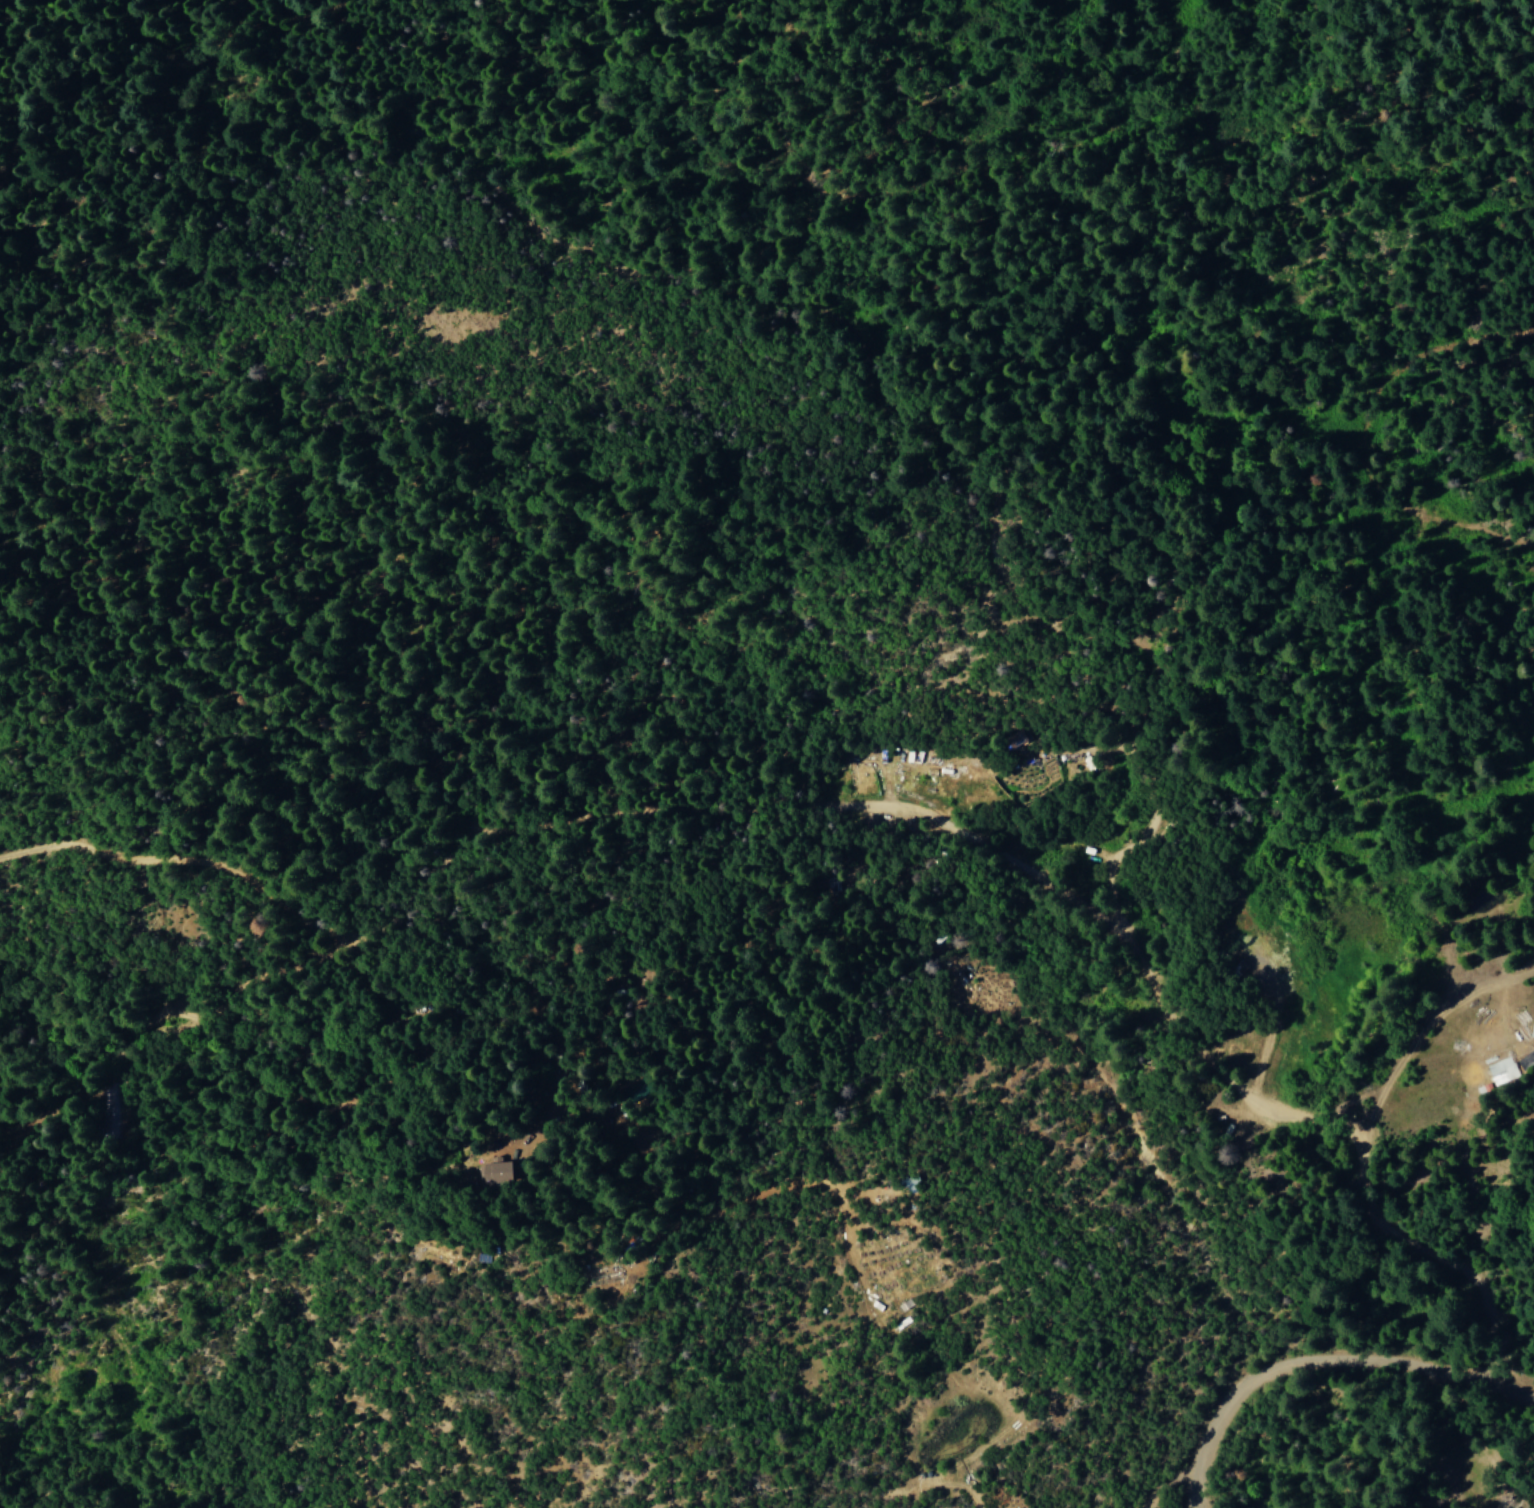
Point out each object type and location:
building: (1014, 739)
building: (1501, 1071)
building: (635, 1090)
building: (490, 1172)
road: (1324, 1385)

